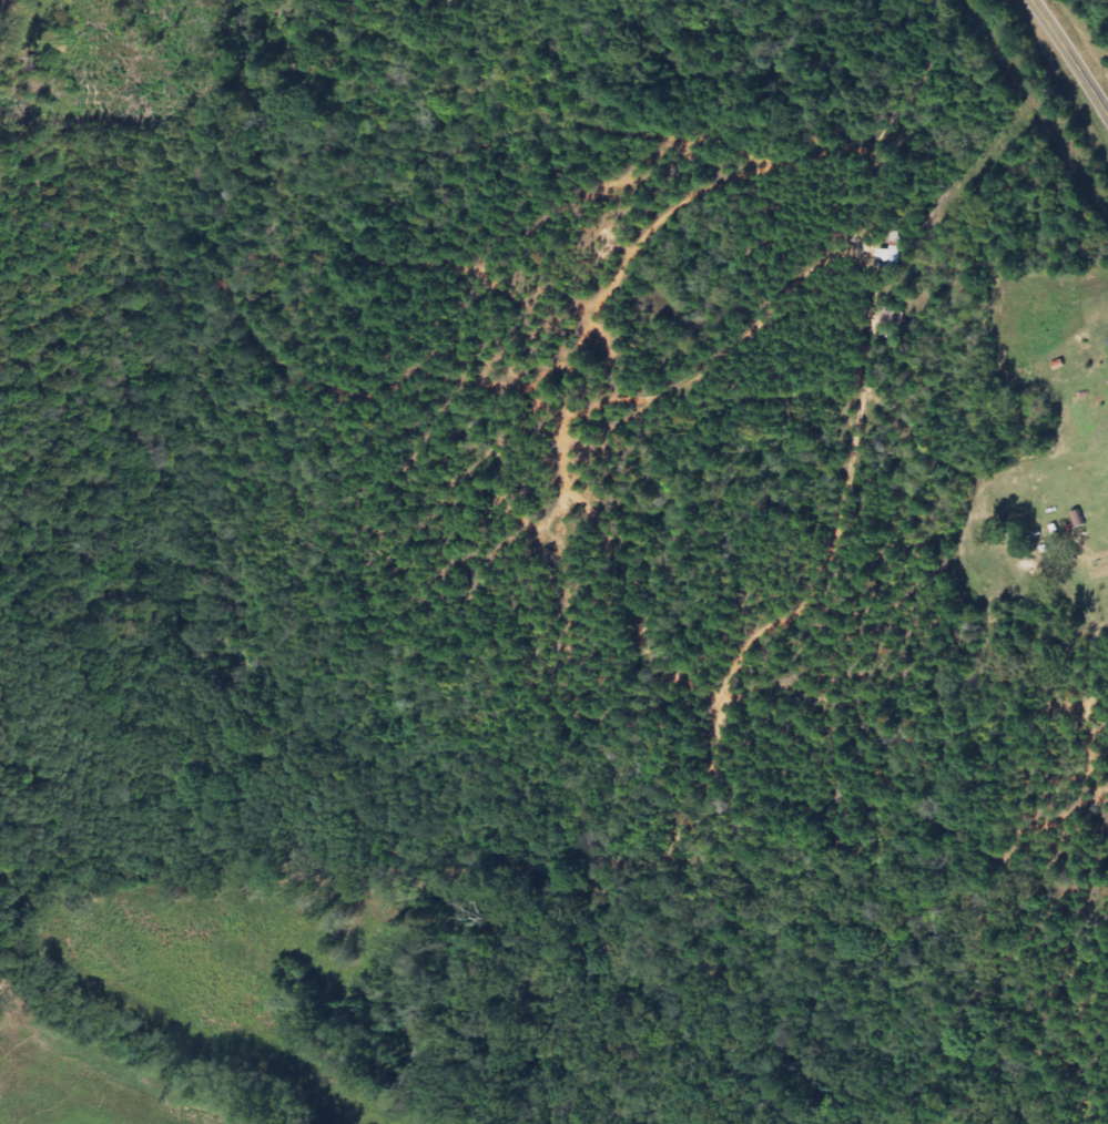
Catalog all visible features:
road: (1070, 54)
building: (893, 254)

